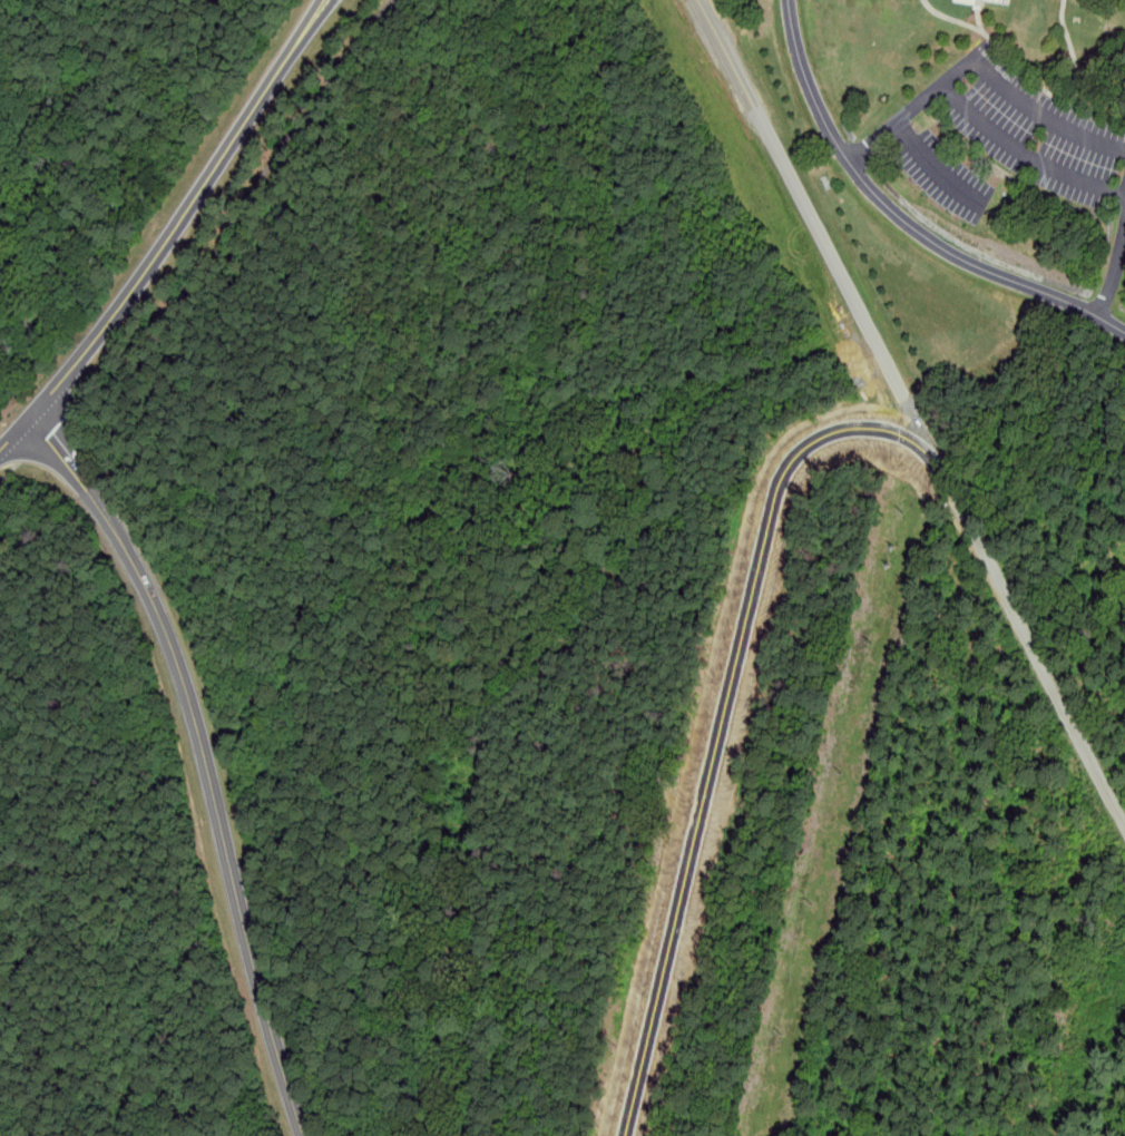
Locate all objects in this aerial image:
building: (978, 3)
road: (979, 65)
parking lot: (1031, 130)
road: (1027, 150)
road: (935, 166)
road: (237, 207)
road: (185, 210)
road: (902, 217)
road: (828, 248)
road: (1113, 273)
road: (40, 425)
road: (17, 431)
road: (63, 447)
road: (6, 476)
road: (1039, 660)
road: (725, 717)
road: (216, 802)

